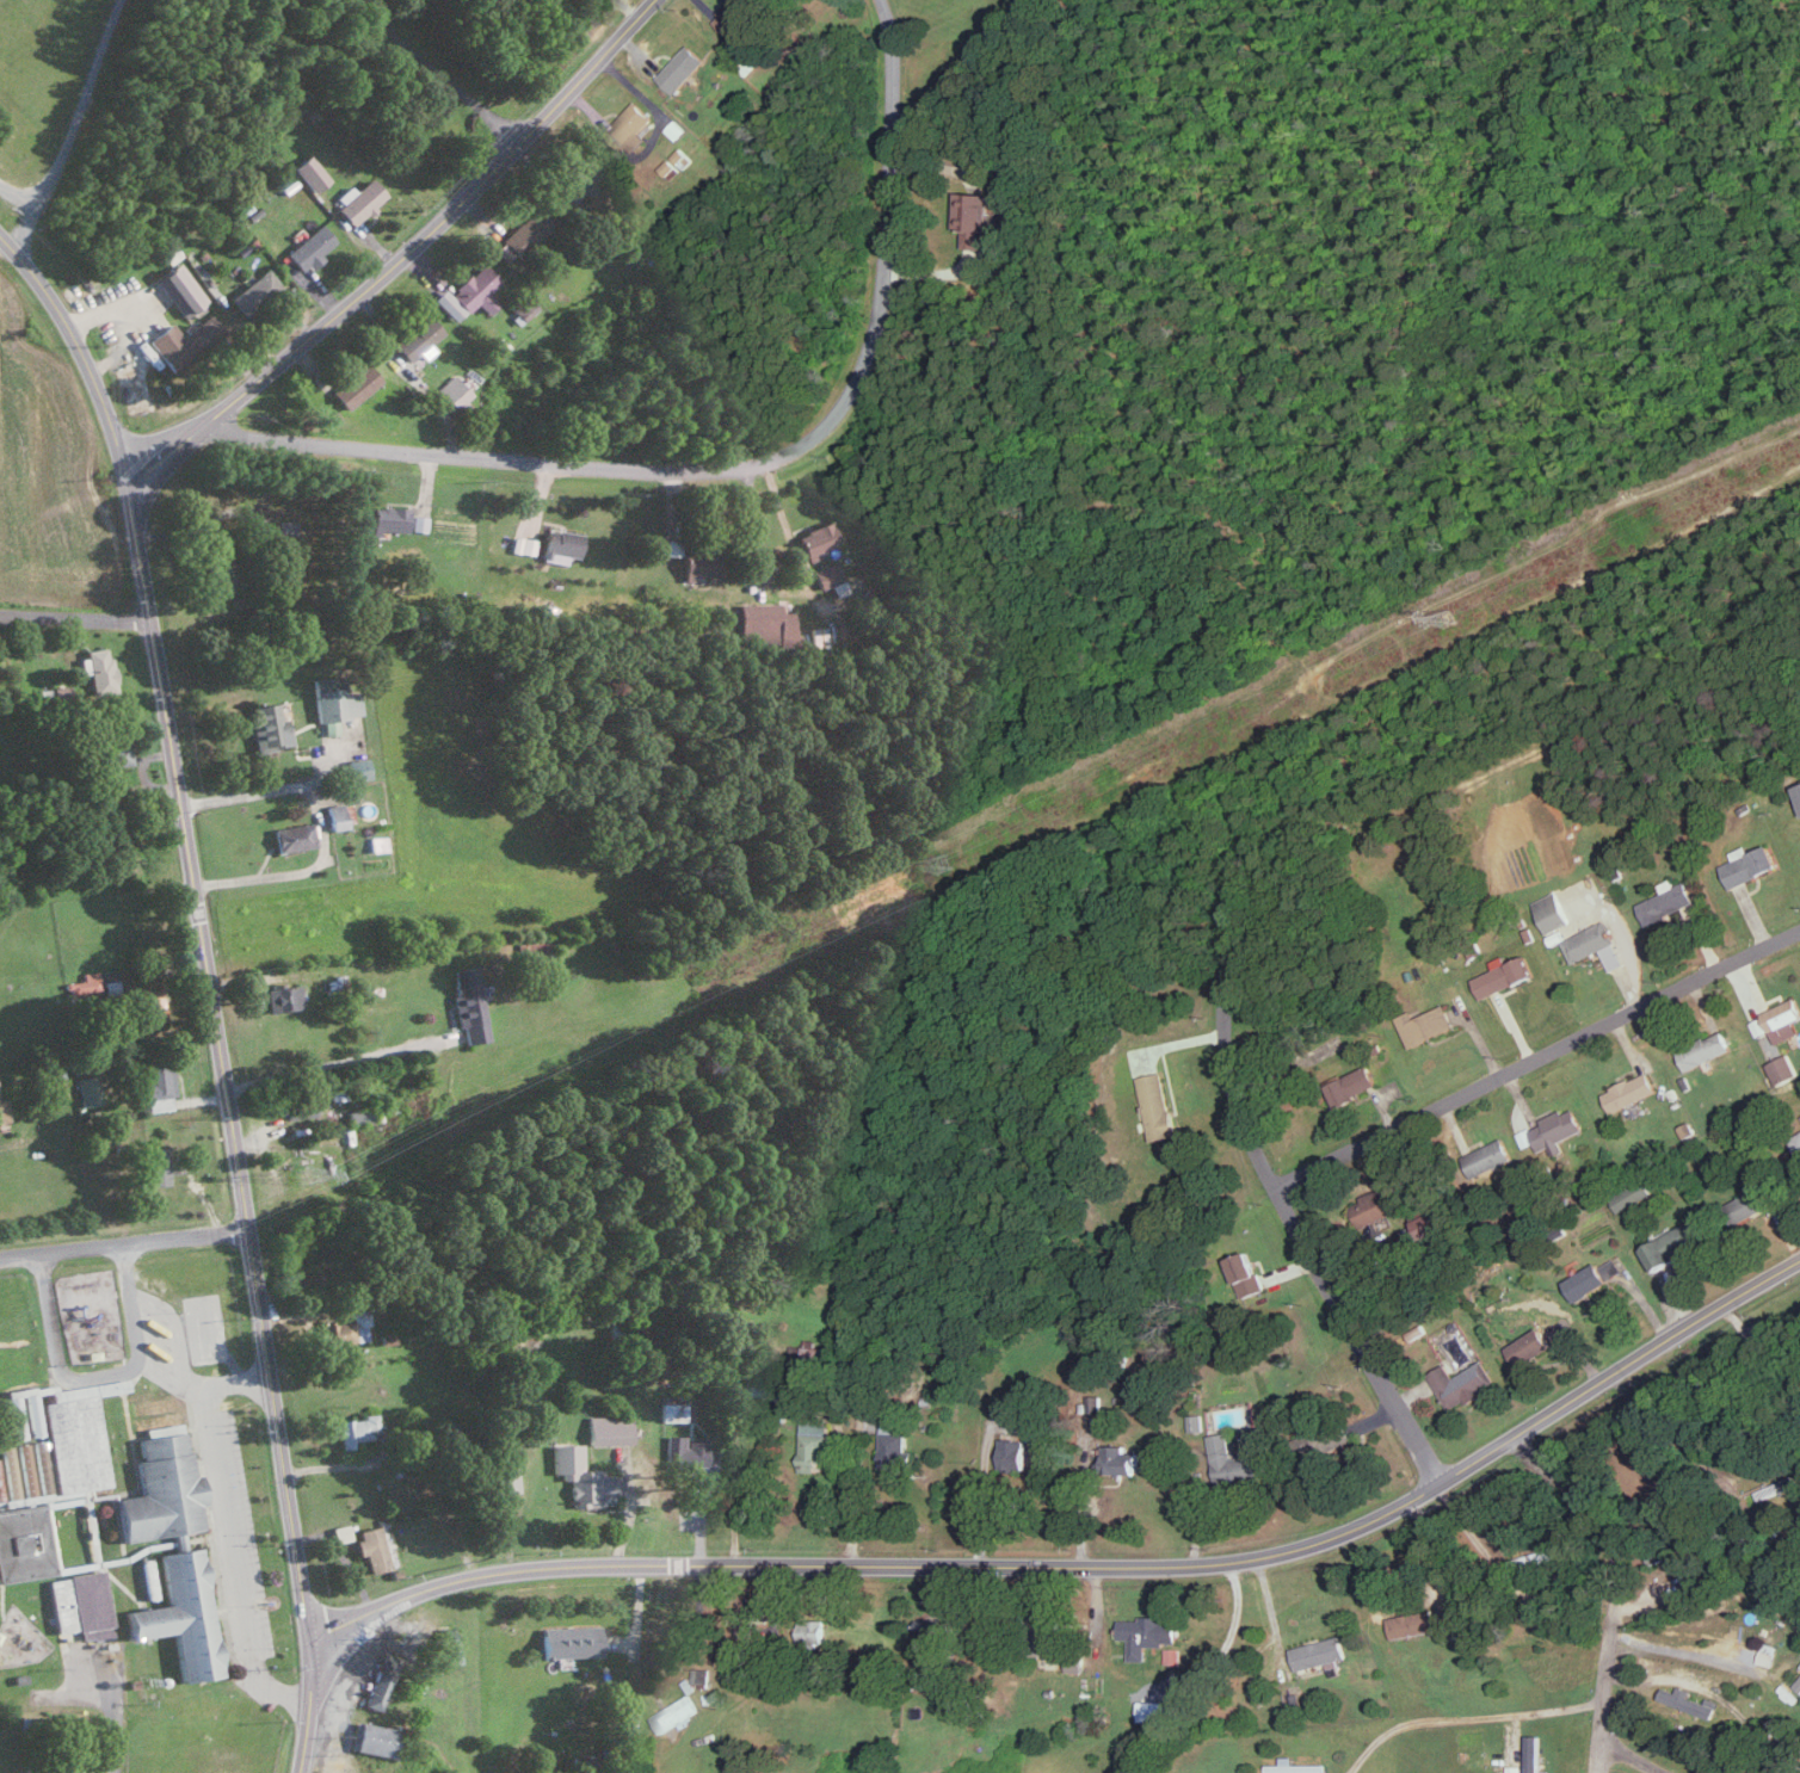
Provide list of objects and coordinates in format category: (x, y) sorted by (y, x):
building: (734, 14)
building: (679, 69)
road: (439, 75)
building: (628, 124)
building: (676, 130)
building: (680, 157)
building: (668, 167)
building: (309, 171)
building: (579, 177)
building: (358, 198)
building: (972, 216)
building: (519, 235)
building: (309, 246)
road: (400, 254)
building: (135, 283)
building: (179, 288)
building: (254, 291)
building: (467, 292)
road: (45, 298)
building: (522, 305)
road: (113, 310)
building: (415, 336)
building: (183, 340)
building: (498, 345)
road: (409, 373)
building: (355, 384)
building: (452, 390)
road: (733, 468)
road: (777, 506)
building: (388, 518)
building: (418, 521)
road: (754, 525)
building: (285, 533)
building: (818, 537)
building: (522, 544)
building: (560, 544)
building: (701, 561)
building: (800, 566)
building: (222, 569)
building: (826, 574)
building: (764, 613)
road: (73, 617)
power tower: (1448, 619)
building: (98, 667)
building: (333, 698)
building: (269, 727)
building: (328, 727)
building: (115, 748)
building: (357, 767)
building: (1799, 787)
road: (265, 789)
building: (339, 814)
building: (294, 836)
building: (376, 842)
building: (1750, 864)
power tower: (943, 865)
road: (271, 875)
building: (1670, 907)
building: (1552, 912)
building: (1594, 945)
building: (1503, 975)
building: (90, 978)
building: (282, 996)
building: (144, 1000)
building: (468, 1002)
building: (1783, 1019)
building: (1425, 1024)
building: (1759, 1026)
building: (1703, 1050)
road: (1535, 1056)
road: (331, 1062)
road: (217, 1063)
building: (1782, 1069)
building: (156, 1083)
building: (1350, 1086)
building: (87, 1089)
building: (1629, 1091)
building: (1157, 1106)
building: (2, 1111)
building: (356, 1116)
building: (1552, 1129)
building: (1796, 1143)
building: (1488, 1157)
building: (155, 1165)
power tower: (304, 1174)
building: (1628, 1197)
building: (1753, 1201)
building: (1379, 1203)
road: (1286, 1212)
building: (1429, 1222)
road: (122, 1241)
building: (312, 1247)
building: (1669, 1247)
building: (1246, 1277)
building: (1586, 1281)
building: (346, 1328)
building: (386, 1338)
building: (1528, 1347)
road: (1762, 1358)
road: (98, 1374)
building: (1461, 1384)
building: (746, 1385)
building: (1092, 1403)
building: (678, 1409)
building: (31, 1414)
building: (14, 1416)
building: (355, 1429)
building: (608, 1429)
building: (74, 1439)
building: (813, 1443)
building: (893, 1445)
building: (683, 1453)
building: (1012, 1453)
building: (1118, 1460)
building: (1231, 1462)
road: (338, 1464)
road: (842, 1468)
building: (24, 1469)
building: (7, 1471)
building: (39, 1472)
building: (581, 1476)
building: (501, 1477)
road: (734, 1479)
building: (160, 1483)
road: (984, 1496)
building: (0, 1501)
road: (1081, 1509)
road: (228, 1528)
building: (339, 1533)
road: (1469, 1533)
building: (24, 1543)
building: (370, 1549)
building: (1534, 1558)
road: (1084, 1567)
road: (1616, 1584)
building: (79, 1604)
building: (181, 1616)
building: (1412, 1624)
building: (812, 1631)
building: (1046, 1631)
building: (1147, 1635)
building: (929, 1637)
building: (569, 1641)
building: (448, 1647)
road: (1676, 1651)
building: (1318, 1652)
building: (1767, 1654)
building: (1171, 1656)
building: (380, 1680)
building: (1798, 1685)
road: (1715, 1691)
building: (1688, 1701)
building: (1154, 1711)
building: (674, 1713)
road: (1467, 1716)
road: (113, 1719)
building: (372, 1738)
road: (1626, 1760)
building: (581, 1762)
building: (1292, 1767)
building: (1512, 1769)
building: (56, 1771)

